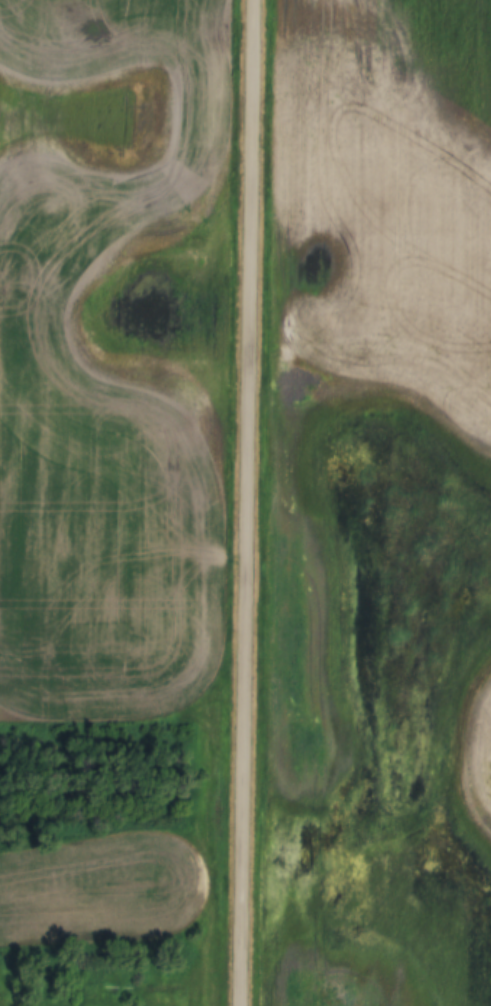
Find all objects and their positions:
road: (245, 503)

